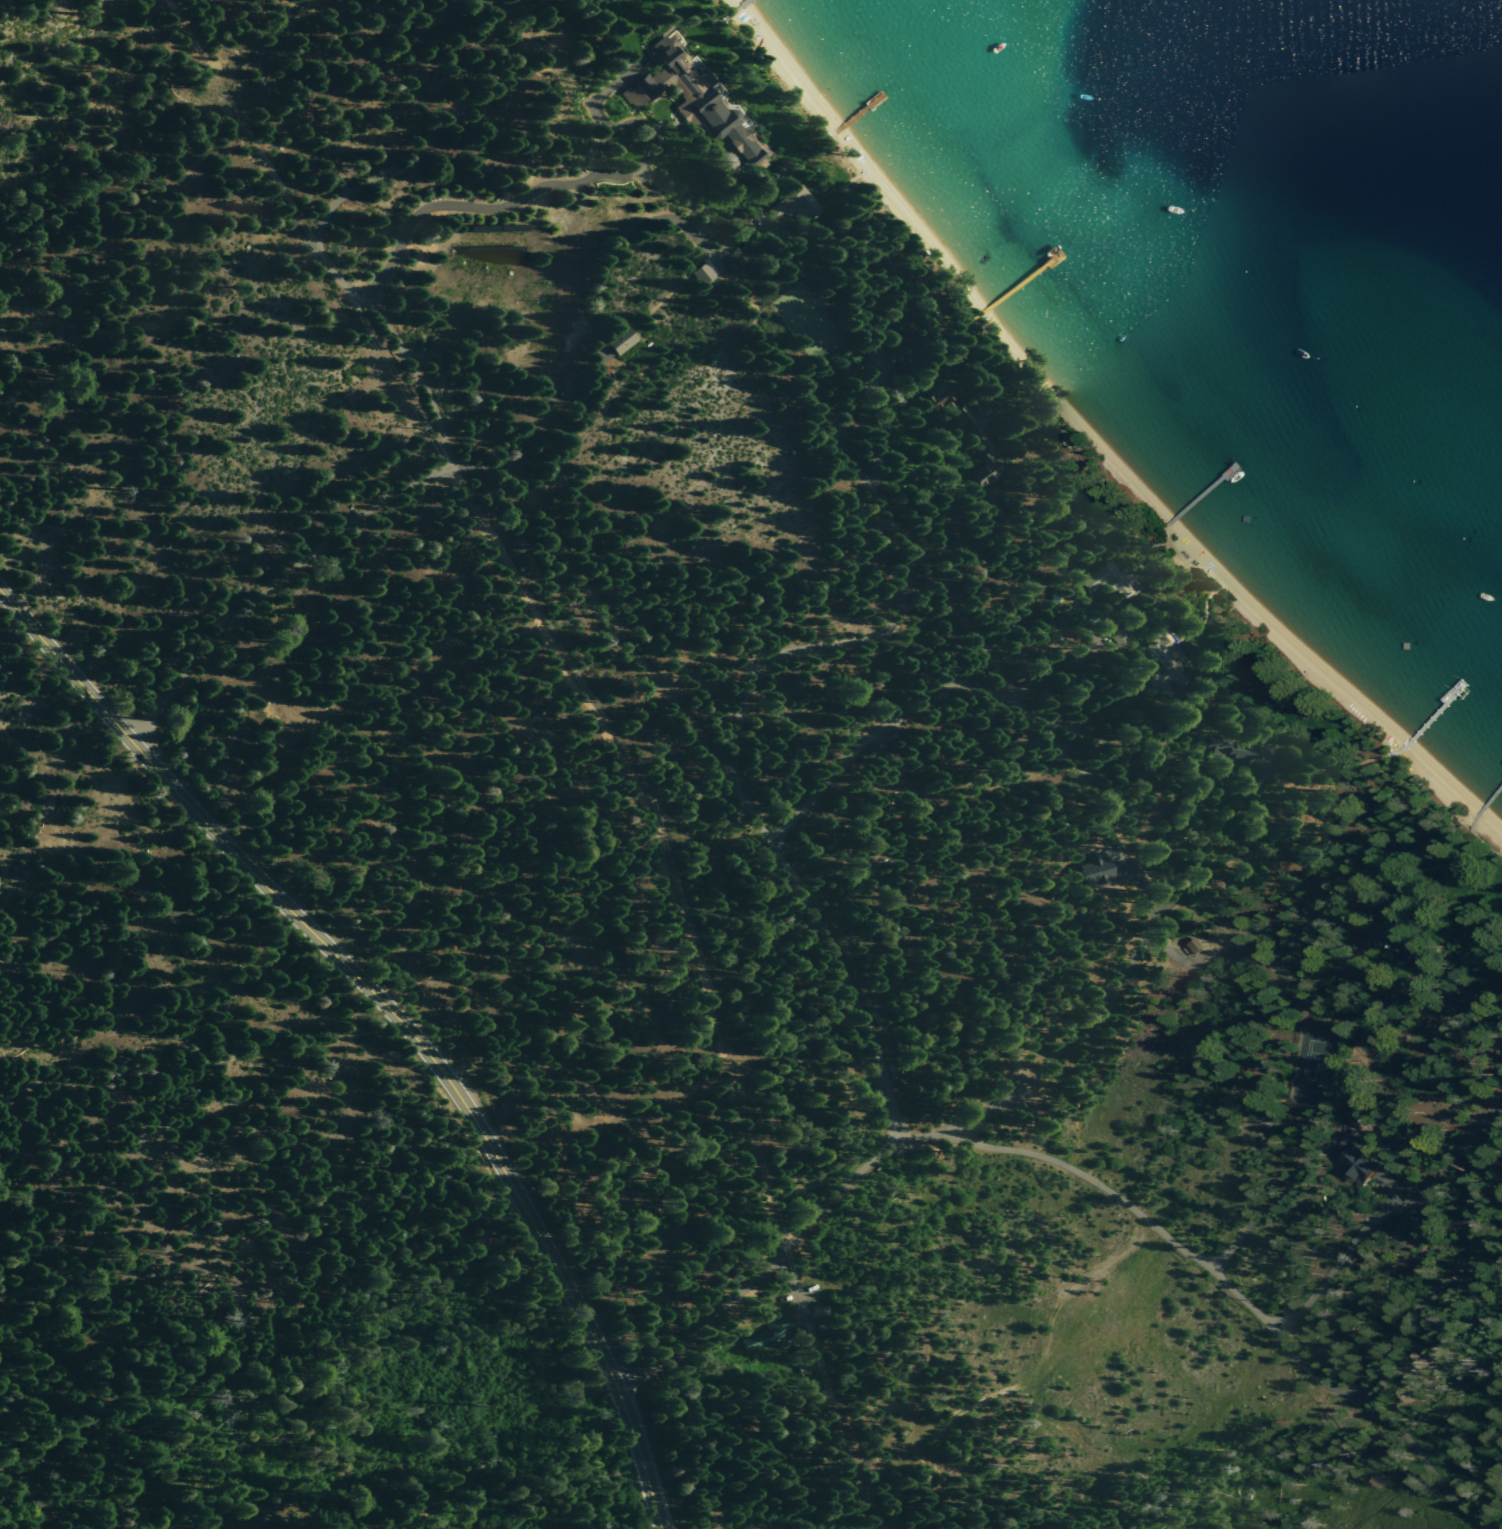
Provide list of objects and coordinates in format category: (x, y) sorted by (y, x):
pier: (743, 2)
building: (694, 100)
pier: (859, 112)
road: (266, 124)
road: (433, 137)
road: (496, 200)
building: (793, 205)
building: (701, 274)
pier: (1021, 280)
road: (594, 328)
building: (619, 340)
building: (984, 470)
pier: (1205, 491)
road: (371, 506)
building: (1109, 581)
road: (887, 629)
building: (1119, 637)
building: (1164, 656)
road: (1055, 680)
building: (1156, 682)
pier: (1434, 712)
road: (912, 715)
building: (1245, 760)
pier: (1489, 798)
building: (1092, 870)
road: (1211, 872)
road: (1153, 895)
building: (1393, 938)
building: (1191, 945)
road: (1202, 957)
road: (396, 1016)
road: (1051, 1071)
road: (1343, 1136)
road: (974, 1144)
road: (1392, 1159)
building: (1361, 1163)
road: (1385, 1221)
road: (761, 1269)
road: (793, 1291)
road: (1415, 1302)
building: (764, 1334)
road: (269, 1355)
road: (1421, 1463)

